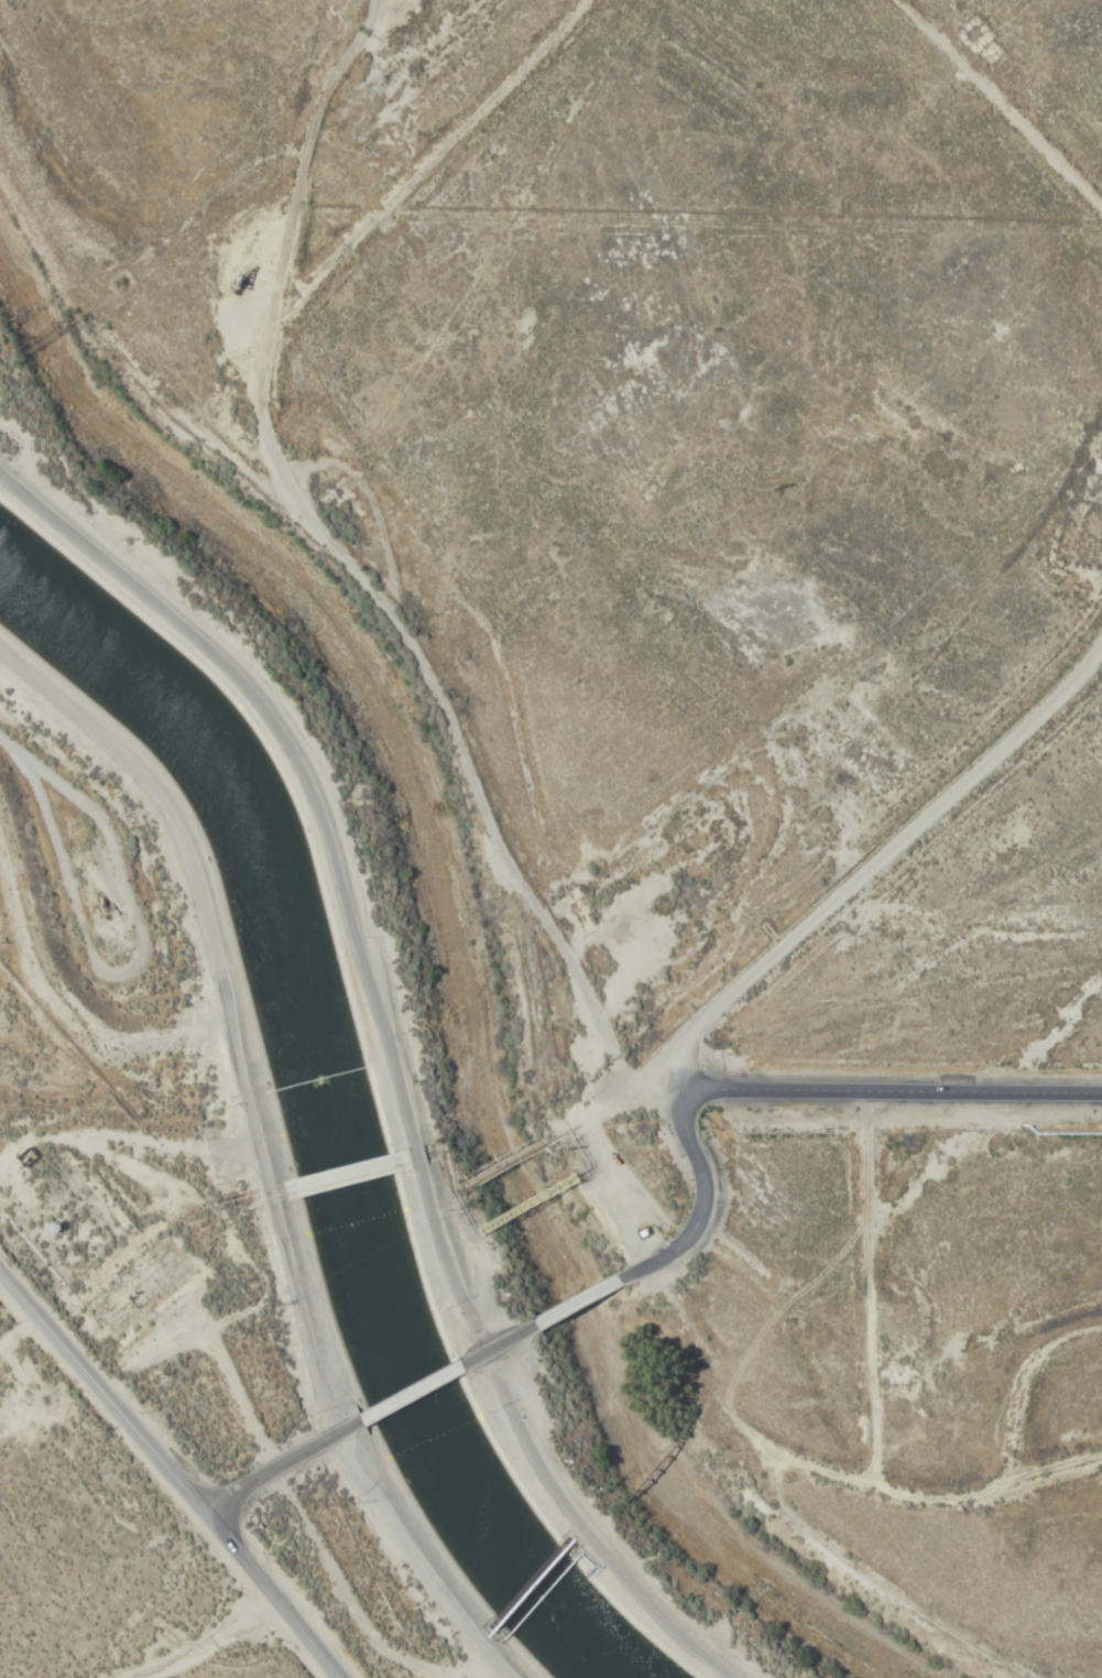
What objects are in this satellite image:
road: (1002, 103)
road: (373, 533)
road: (21, 755)
road: (883, 856)
road: (127, 972)
road: (391, 1067)
road: (775, 1079)
road: (263, 1165)
road: (491, 1166)
road: (343, 1179)
road: (861, 1277)
road: (574, 1296)
road: (499, 1348)
road: (411, 1392)
road: (276, 1464)
road: (167, 1473)
road: (916, 1473)
road: (217, 1646)

